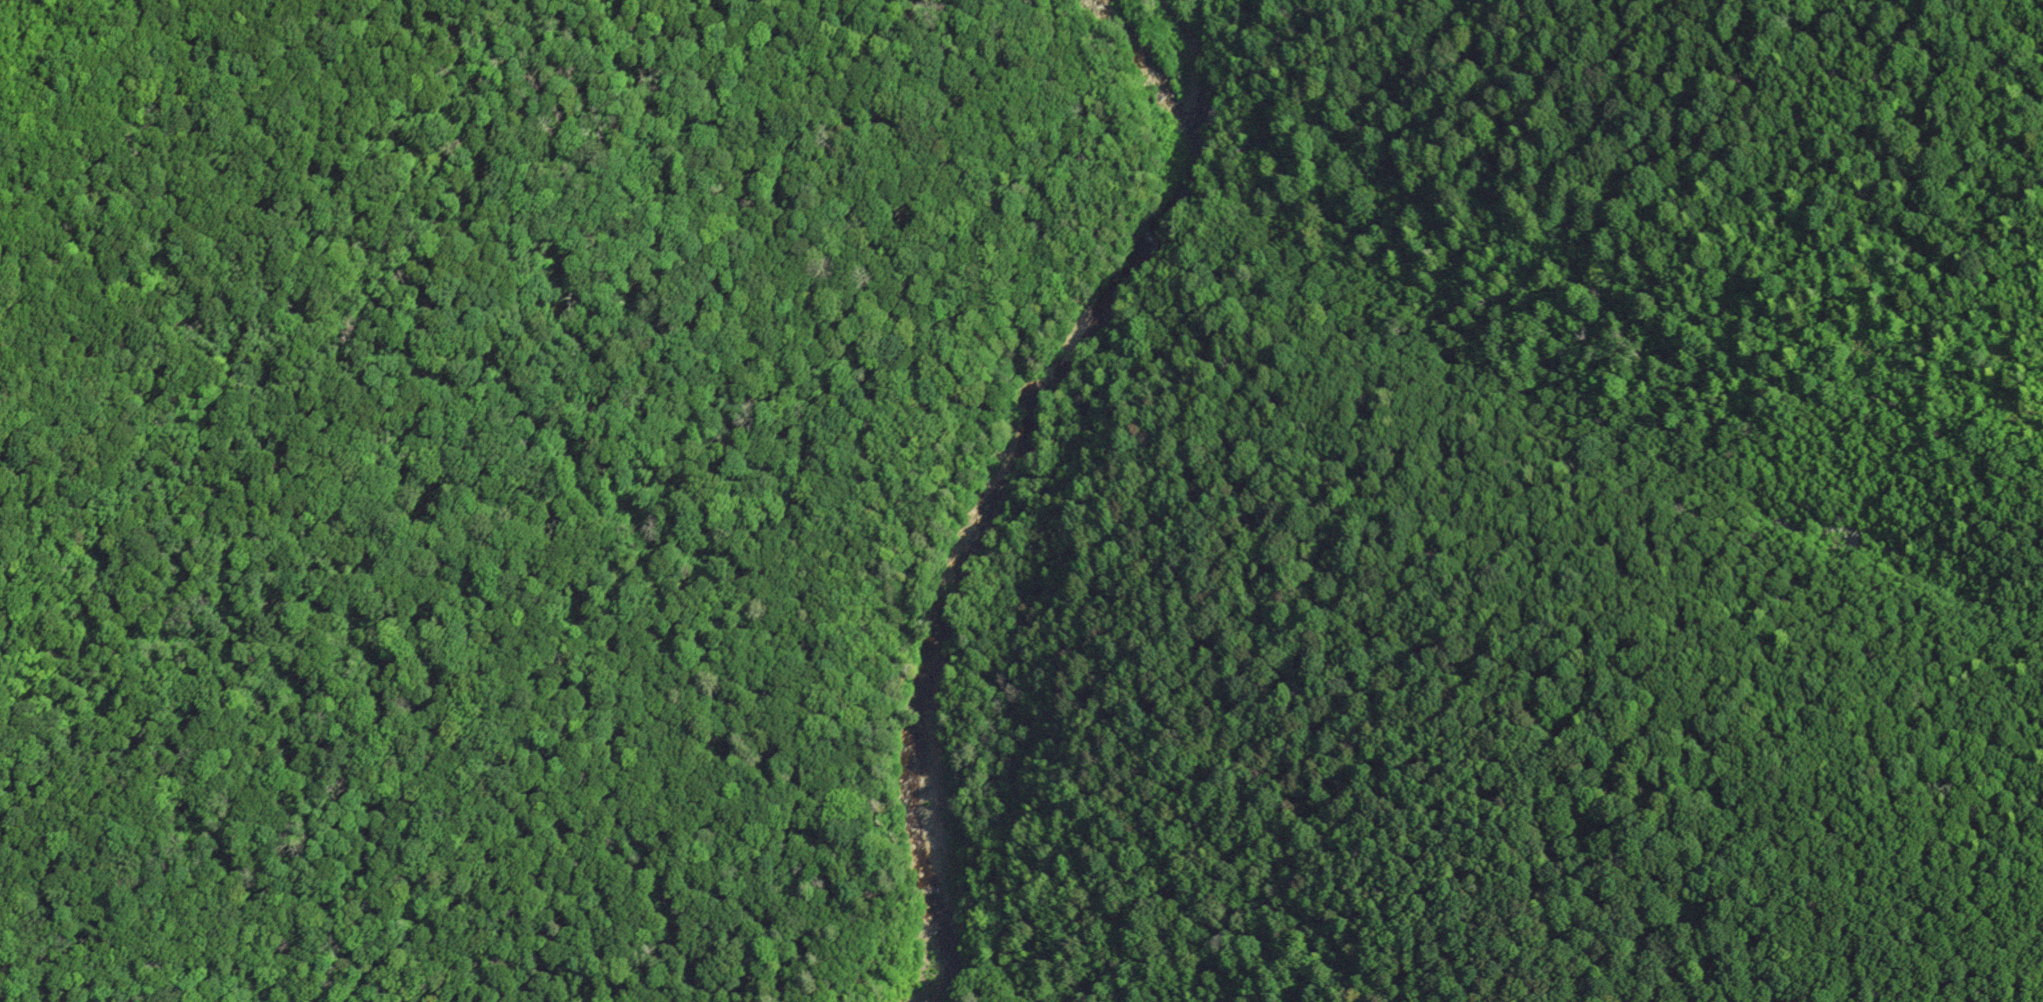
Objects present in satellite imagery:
road: (77, 79)
river: (988, 475)
road: (1163, 478)

